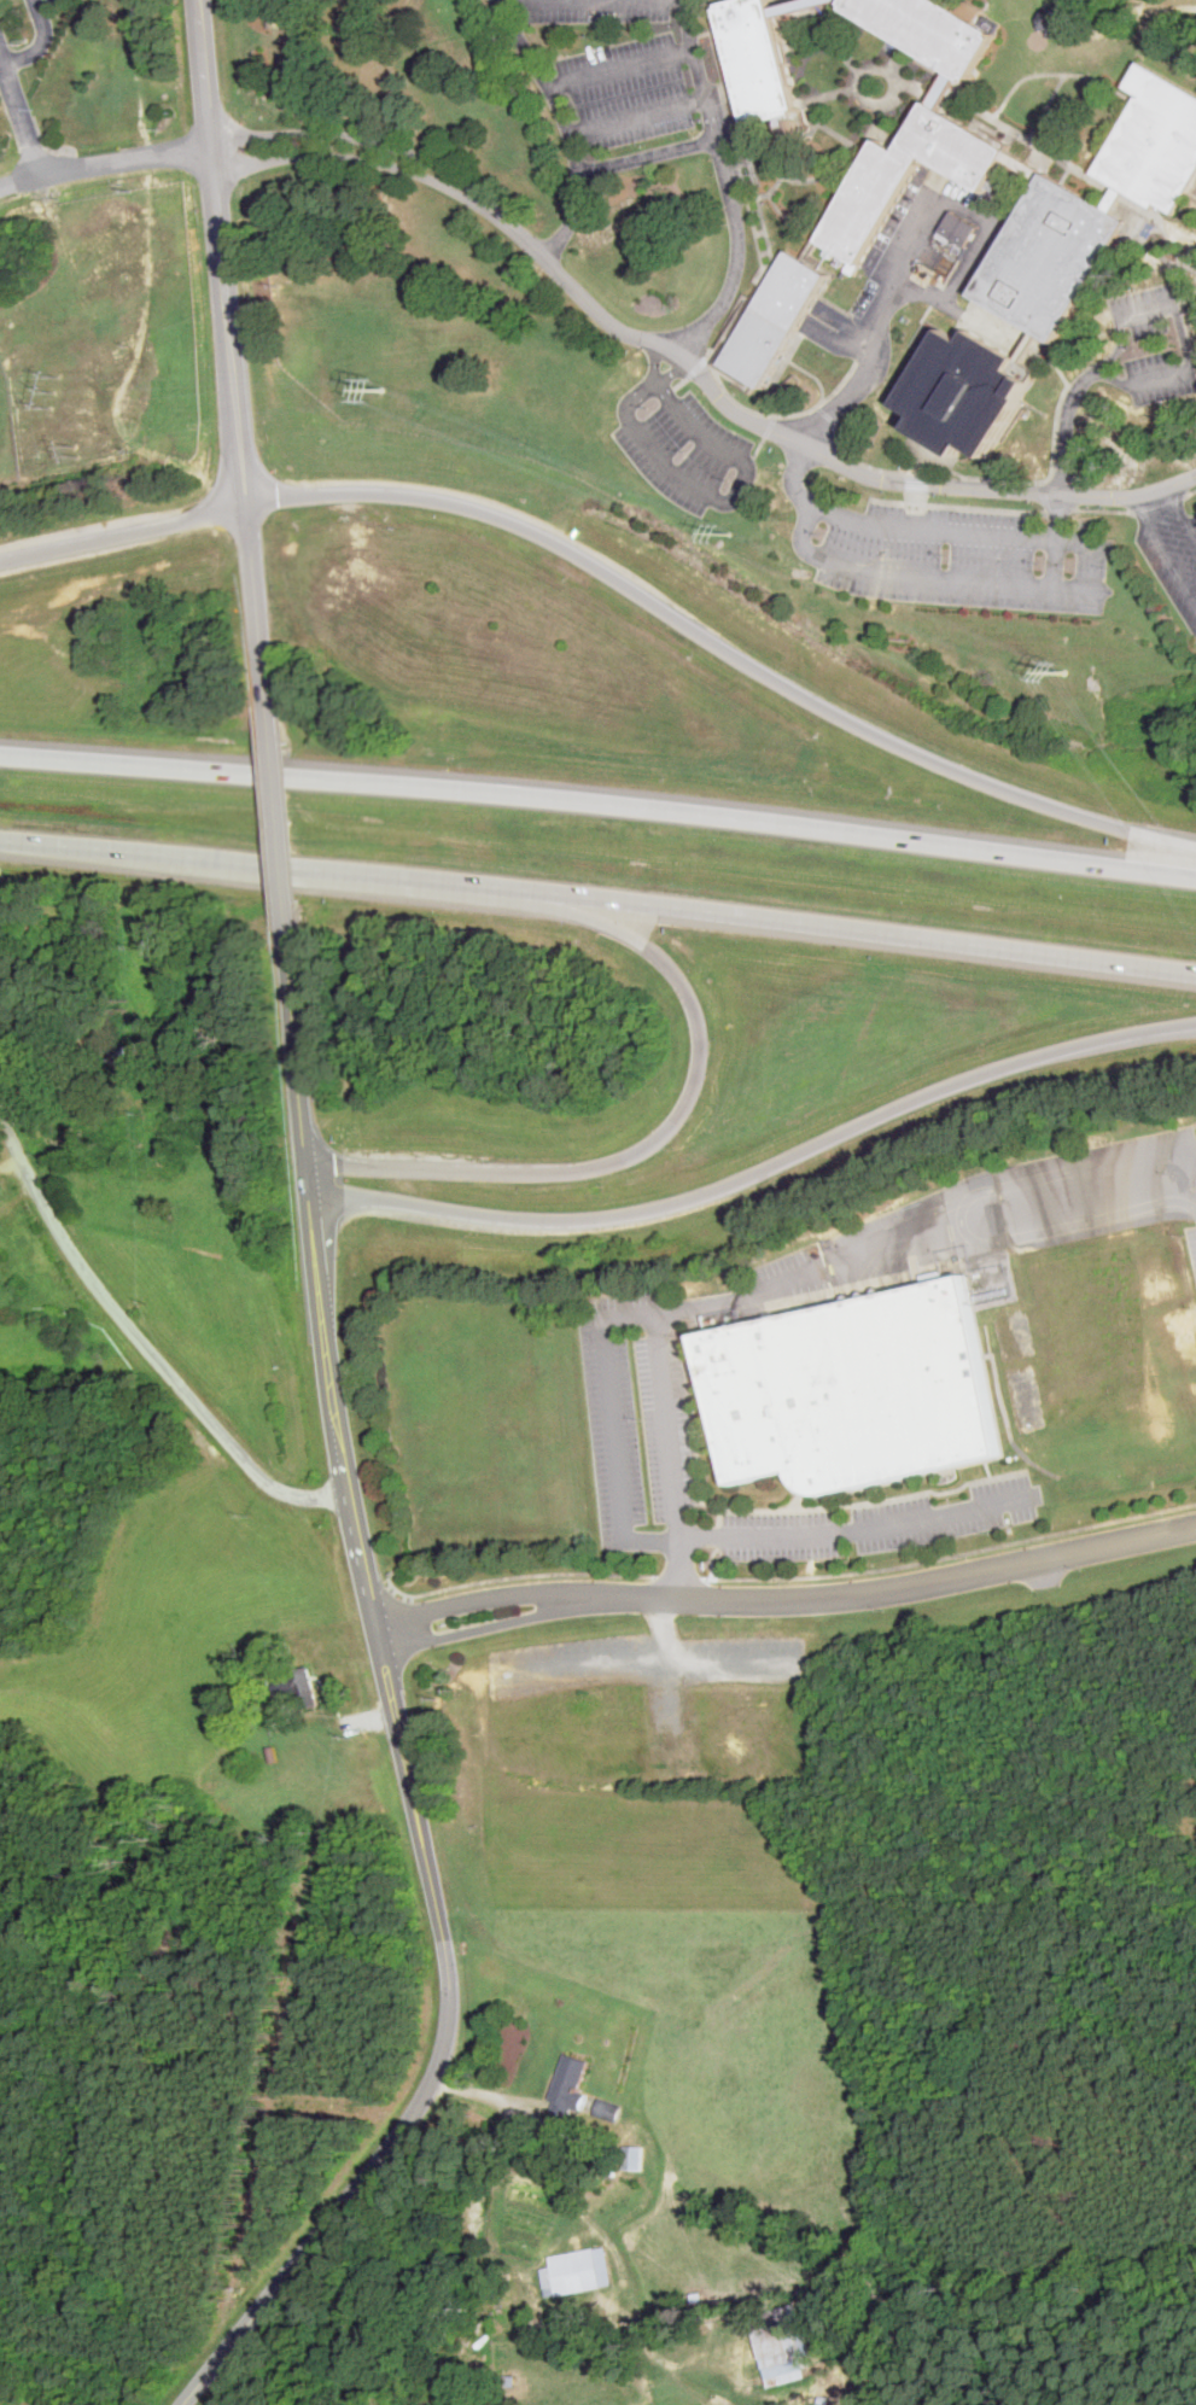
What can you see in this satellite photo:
road: (801, 5)
parking lot: (593, 10)
road: (833, 18)
building: (1050, 19)
building: (941, 29)
road: (708, 31)
road: (1031, 31)
road: (829, 39)
road: (41, 41)
road: (922, 41)
road: (717, 48)
road: (897, 51)
building: (764, 59)
road: (873, 66)
road: (619, 68)
road: (696, 71)
road: (1029, 75)
road: (958, 80)
road: (934, 81)
road: (945, 84)
road: (723, 89)
road: (836, 91)
parking lot: (629, 92)
road: (728, 97)
road: (933, 105)
road: (968, 105)
road: (1045, 105)
road: (22, 111)
road: (636, 117)
road: (724, 119)
road: (564, 125)
road: (1125, 128)
road: (835, 133)
road: (364, 139)
road: (735, 140)
road: (990, 140)
building: (1157, 141)
road: (1037, 144)
building: (959, 145)
road: (856, 152)
road: (1037, 156)
road: (926, 157)
road: (361, 158)
road: (647, 158)
road: (104, 162)
road: (842, 162)
road: (735, 163)
road: (1027, 165)
road: (1078, 169)
road: (938, 179)
road: (755, 180)
road: (778, 180)
road: (798, 180)
road: (742, 185)
road: (745, 188)
road: (1011, 195)
road: (751, 198)
road: (1115, 199)
road: (1150, 199)
building: (873, 200)
road: (1089, 202)
road: (1127, 208)
road: (1153, 210)
road: (758, 211)
road: (790, 216)
road: (1149, 223)
building: (959, 227)
road: (912, 230)
road: (763, 232)
road: (1139, 233)
road: (769, 251)
road: (737, 256)
building: (1054, 256)
road: (1177, 262)
road: (1175, 273)
road: (1102, 286)
road: (1186, 293)
road: (739, 302)
road: (952, 307)
parking lot: (1147, 308)
road: (748, 311)
building: (778, 317)
road: (1180, 323)
road: (731, 335)
road: (1043, 349)
road: (229, 351)
road: (714, 351)
road: (1044, 356)
road: (654, 360)
road: (1058, 367)
road: (671, 370)
road: (688, 374)
parking lot: (1159, 376)
power tower: (381, 387)
power tower: (56, 390)
building: (968, 392)
road: (825, 411)
road: (777, 414)
road: (1066, 425)
road: (927, 432)
road: (763, 442)
road: (811, 446)
power tower: (78, 449)
parking lot: (683, 449)
road: (923, 457)
road: (865, 462)
road: (1049, 471)
road: (928, 494)
road: (719, 496)
road: (1042, 496)
road: (1034, 510)
road: (1180, 513)
road: (926, 530)
road: (123, 532)
power tower: (730, 532)
road: (1057, 541)
road: (1163, 549)
parking lot: (1172, 554)
parking lot: (962, 558)
road: (932, 579)
road: (723, 648)
power tower: (1063, 671)
road: (599, 800)
road: (275, 815)
road: (599, 899)
building: (116, 1053)
building: (60, 1058)
road: (665, 1131)
road: (760, 1169)
building: (92, 1191)
road: (991, 1238)
road: (798, 1277)
road: (630, 1313)
road: (140, 1338)
building: (854, 1391)
road: (757, 1536)
road: (903, 1589)
road: (486, 1596)
road: (491, 1622)
building: (294, 1679)
road: (391, 1708)
building: (244, 1764)
building: (572, 2084)
building: (578, 2271)
building: (780, 2342)

